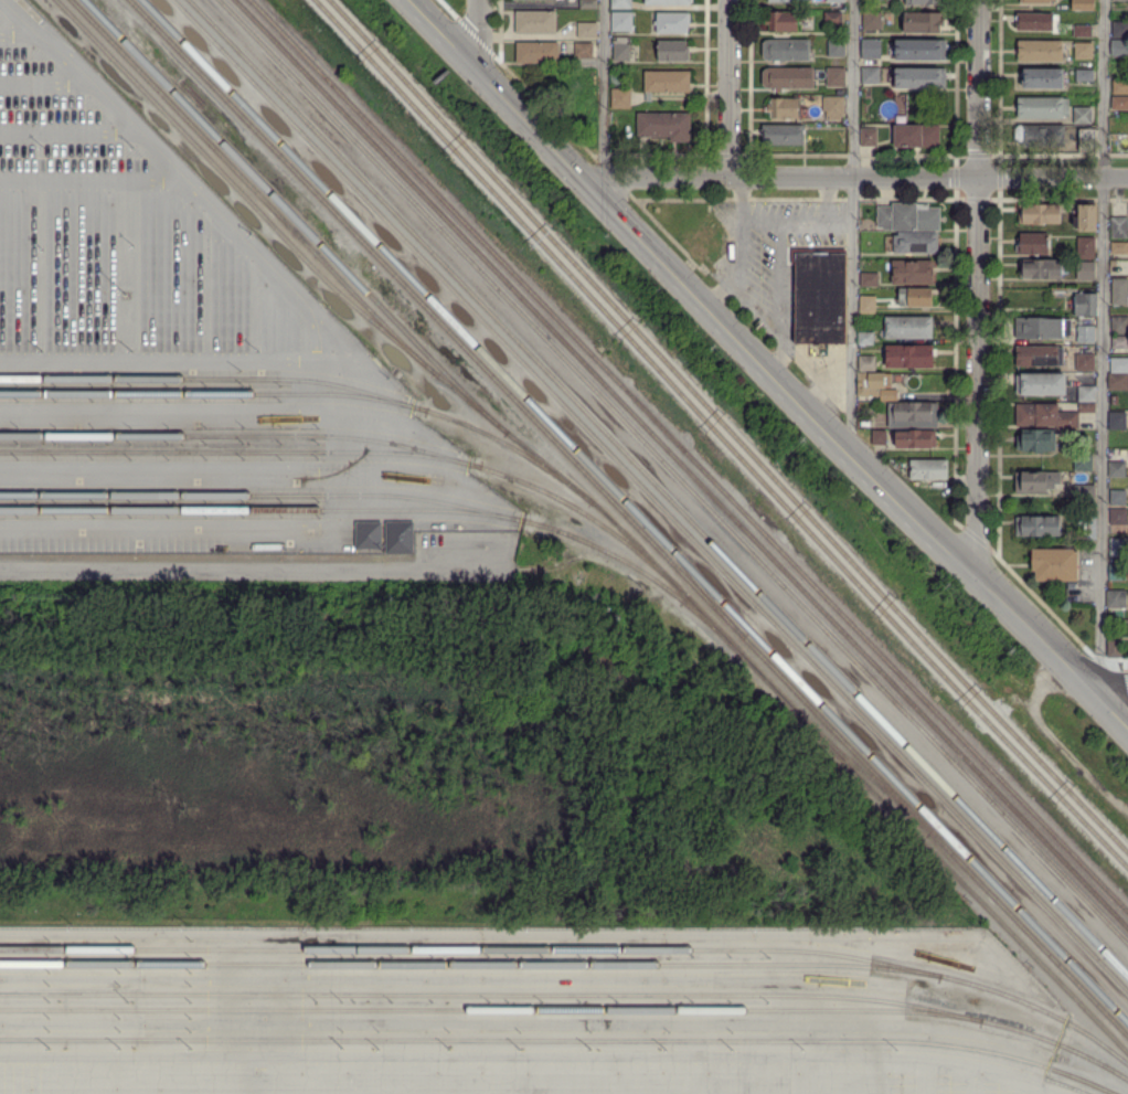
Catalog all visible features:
building: (786, 0)
building: (834, 0)
building: (923, 1)
building: (1034, 1)
building: (667, 2)
building: (620, 3)
building: (587, 4)
building: (1083, 4)
building: (833, 18)
building: (781, 21)
building: (872, 21)
building: (922, 21)
building: (1034, 21)
building: (620, 22)
building: (671, 22)
building: (535, 23)
building: (585, 30)
building: (1120, 30)
building: (1083, 31)
road: (477, 34)
road: (23, 35)
building: (620, 47)
building: (836, 47)
building: (871, 47)
building: (1119, 47)
building: (582, 50)
building: (785, 50)
building: (922, 50)
building: (1040, 50)
building: (672, 51)
building: (1083, 51)
building: (535, 53)
building: (1113, 65)
building: (870, 75)
building: (1084, 75)
building: (836, 76)
building: (616, 77)
building: (788, 77)
building: (922, 77)
building: (1042, 78)
road: (46, 83)
building: (666, 83)
building: (1120, 86)
road: (604, 87)
road: (728, 88)
building: (620, 99)
building: (1120, 104)
building: (833, 106)
building: (784, 107)
building: (1043, 107)
building: (1082, 116)
building: (663, 125)
road: (70, 131)
building: (783, 135)
building: (1041, 135)
building: (869, 136)
building: (916, 136)
building: (1086, 145)
road: (852, 177)
road: (93, 179)
road: (187, 179)
railway: (253, 188)
building: (1039, 213)
building: (908, 216)
railway: (296, 217)
building: (1085, 217)
road: (760, 219)
road: (827, 219)
road: (851, 226)
road: (117, 227)
building: (1119, 227)
parking lot: (126, 234)
building: (706, 243)
building: (915, 243)
building: (1032, 243)
road: (736, 247)
building: (1085, 247)
building: (1119, 247)
building: (1041, 268)
building: (1085, 270)
building: (913, 273)
parking lot: (784, 275)
road: (140, 276)
building: (869, 278)
road: (976, 288)
building: (1119, 291)
building: (918, 297)
building: (820, 298)
building: (866, 301)
road: (759, 302)
building: (1085, 304)
road: (164, 325)
building: (1119, 325)
building: (908, 327)
building: (1039, 328)
building: (1085, 334)
building: (865, 338)
road: (1103, 340)
building: (1119, 341)
road: (778, 351)
building: (909, 355)
building: (1040, 355)
road: (180, 358)
building: (1085, 362)
building: (866, 363)
building: (1119, 364)
road: (823, 367)
road: (765, 369)
building: (1118, 381)
railway: (310, 382)
building: (870, 383)
building: (1041, 384)
building: (1086, 393)
railway: (214, 394)
building: (888, 395)
building: (1086, 407)
building: (912, 412)
building: (1044, 416)
building: (864, 419)
building: (1116, 421)
railway: (726, 427)
railway: (719, 435)
building: (879, 437)
building: (915, 438)
railway: (365, 439)
building: (1036, 439)
railway: (242, 452)
railway: (688, 454)
building: (1083, 463)
railway: (681, 464)
building: (928, 469)
building: (1116, 469)
railway: (672, 471)
building: (1037, 481)
railway: (658, 487)
building: (1084, 493)
railway: (390, 496)
railway: (650, 496)
building: (1117, 497)
railway: (262, 511)
railway: (636, 511)
railway: (605, 513)
building: (1117, 516)
railway: (628, 518)
building: (1039, 525)
building: (1088, 528)
building: (366, 535)
building: (397, 538)
building: (784, 539)
building: (1118, 546)
building: (1054, 564)
road: (255, 571)
building: (1117, 572)
railway: (694, 580)
building: (1115, 598)
building: (1113, 649)
building: (603, 662)
road: (1103, 681)
railway: (866, 774)
road: (492, 937)
railway: (575, 949)
railway: (469, 964)
railway: (1118, 965)
railway: (571, 995)
railway: (490, 1010)
railway: (558, 1041)
road: (535, 1053)
parking lot: (511, 1069)
road: (877, 1073)
road: (925, 1074)
road: (973, 1077)
road: (1022, 1084)

